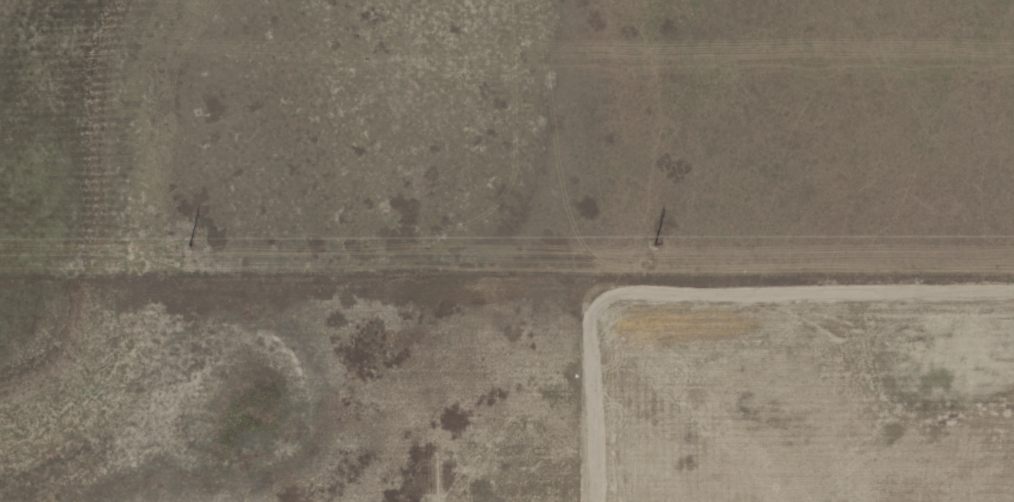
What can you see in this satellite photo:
power tower: (655, 244)
power tower: (191, 245)

